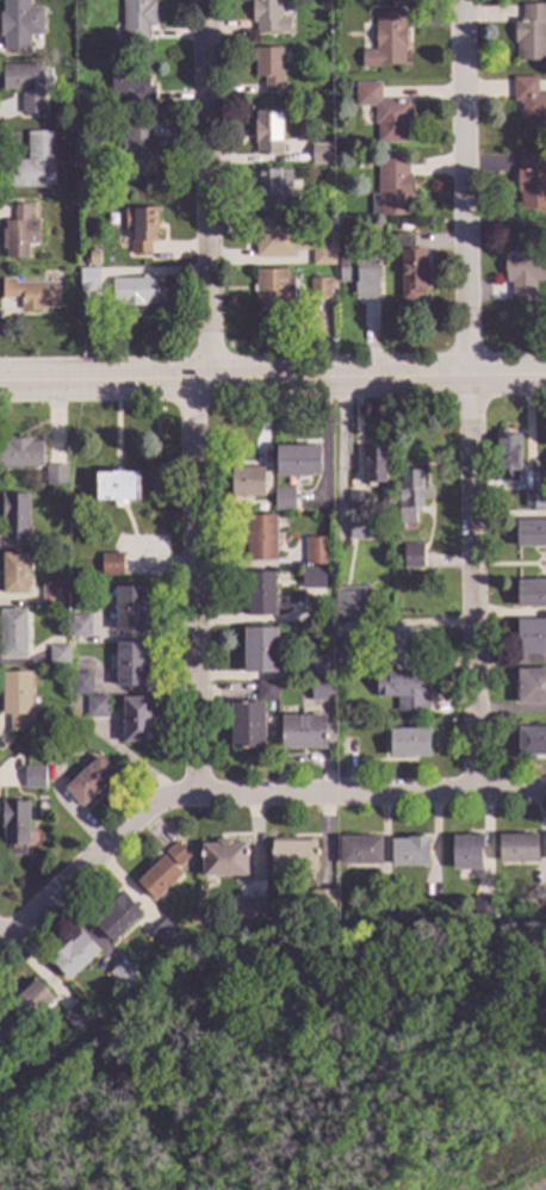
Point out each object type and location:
building: (267, 17)
building: (136, 21)
building: (19, 25)
building: (531, 33)
building: (385, 43)
building: (268, 70)
building: (131, 86)
building: (24, 87)
building: (531, 106)
building: (385, 114)
building: (267, 134)
building: (136, 150)
building: (321, 155)
building: (30, 165)
building: (531, 182)
building: (274, 190)
building: (391, 190)
building: (403, 228)
building: (139, 229)
building: (19, 234)
building: (278, 240)
building: (322, 255)
building: (93, 259)
building: (409, 268)
building: (523, 274)
building: (359, 275)
building: (88, 280)
building: (318, 289)
building: (272, 290)
building: (132, 293)
building: (30, 296)
road: (273, 377)
road: (467, 392)
road: (197, 396)
road: (341, 450)
building: (20, 455)
building: (508, 458)
building: (296, 464)
building: (373, 469)
building: (55, 478)
building: (246, 485)
building: (116, 490)
building: (410, 498)
building: (281, 502)
building: (534, 502)
building: (356, 504)
building: (13, 519)
building: (359, 531)
building: (529, 538)
building: (260, 540)
building: (316, 552)
building: (410, 560)
building: (111, 565)
building: (14, 575)
building: (311, 582)
building: (51, 597)
building: (260, 597)
building: (531, 597)
building: (350, 605)
building: (130, 612)
building: (80, 628)
building: (342, 632)
building: (12, 637)
building: (531, 640)
building: (60, 644)
building: (342, 646)
building: (403, 647)
building: (258, 655)
building: (57, 658)
building: (342, 663)
building: (131, 668)
building: (322, 670)
building: (337, 676)
building: (80, 687)
building: (531, 690)
building: (319, 693)
building: (404, 693)
building: (263, 695)
building: (18, 704)
building: (95, 709)
building: (135, 723)
building: (246, 730)
building: (303, 736)
building: (532, 744)
building: (408, 745)
building: (56, 746)
building: (33, 781)
building: (89, 785)
road: (243, 792)
building: (13, 829)
building: (517, 851)
building: (360, 854)
building: (410, 855)
building: (466, 856)
building: (293, 861)
building: (223, 862)
building: (162, 872)
building: (321, 904)
building: (482, 907)
building: (254, 911)
building: (116, 918)
building: (163, 934)
building: (72, 957)
building: (122, 973)
building: (30, 1003)
building: (75, 1017)
building: (4, 1037)
building: (26, 1053)
park: (304, 1065)

